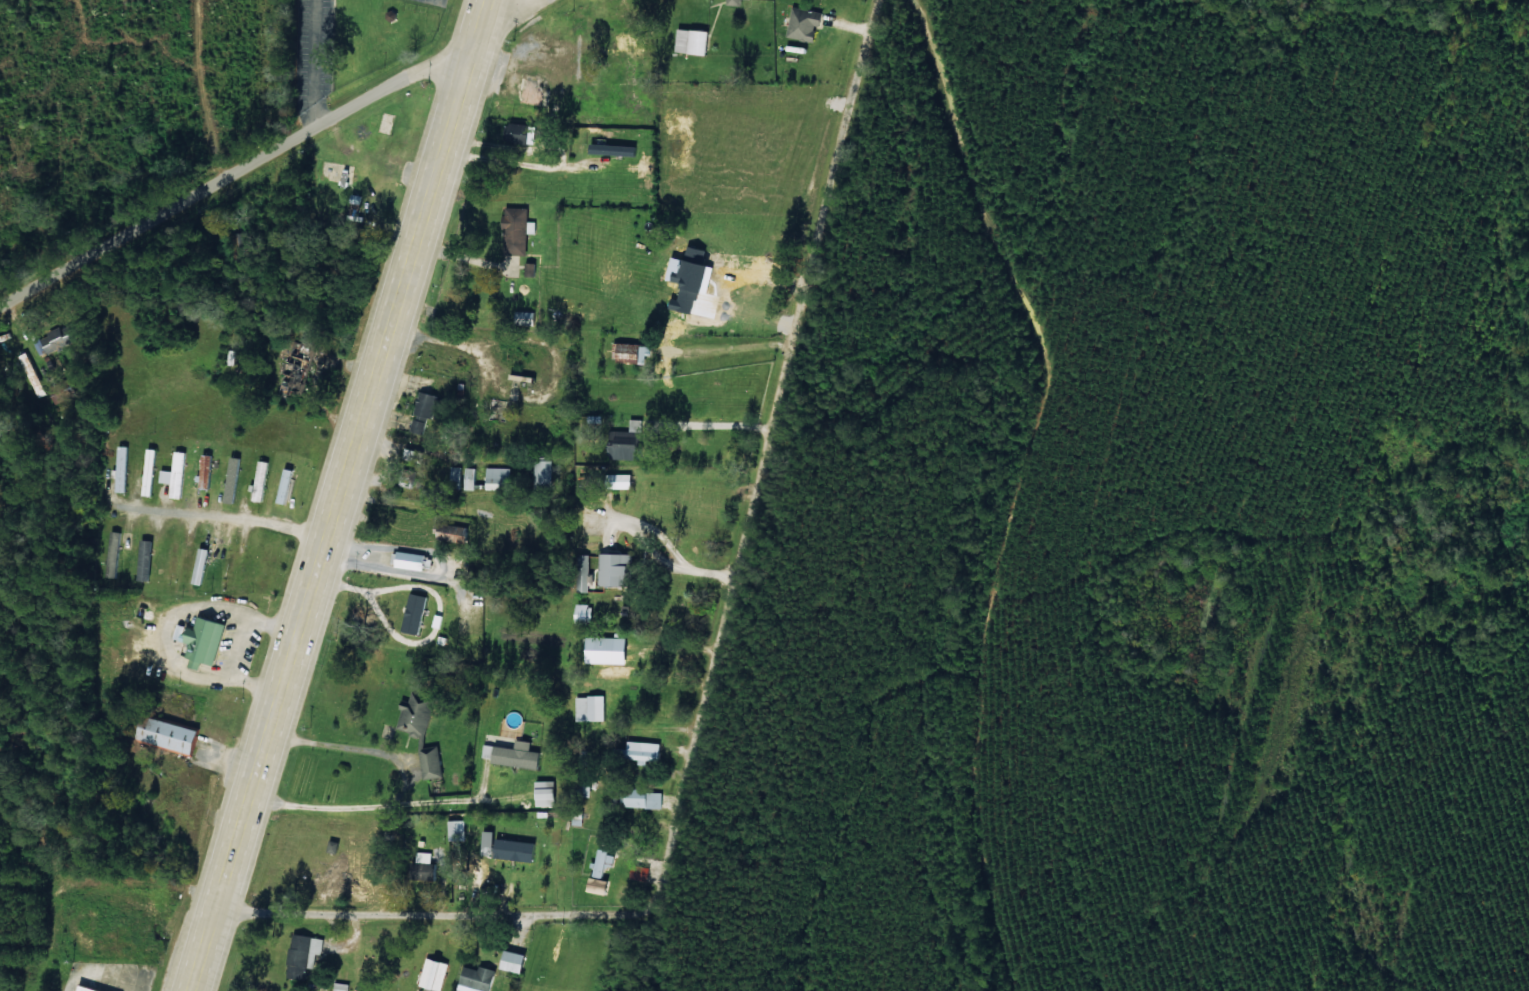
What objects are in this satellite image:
building: (732, 2)
building: (802, 24)
building: (689, 41)
building: (521, 134)
road: (271, 160)
building: (518, 231)
building: (56, 340)
building: (628, 352)
building: (300, 368)
building: (428, 403)
building: (420, 425)
building: (628, 442)
building: (152, 461)
building: (122, 469)
building: (207, 470)
building: (457, 473)
building: (544, 473)
building: (176, 475)
building: (471, 477)
building: (499, 477)
building: (233, 480)
building: (621, 480)
building: (286, 485)
building: (149, 487)
road: (339, 495)
road: (225, 520)
building: (454, 532)
building: (412, 560)
building: (202, 565)
building: (229, 566)
building: (617, 568)
building: (416, 613)
building: (586, 613)
building: (208, 638)
building: (609, 649)
road: (717, 671)
building: (592, 708)
building: (424, 730)
building: (172, 735)
building: (646, 751)
building: (515, 754)
building: (549, 793)
building: (641, 798)
building: (459, 830)
building: (519, 849)
building: (601, 864)
building: (426, 865)
building: (640, 873)
building: (602, 885)
building: (305, 955)
building: (517, 961)
building: (435, 974)
building: (481, 977)
building: (342, 987)
building: (89, 988)

